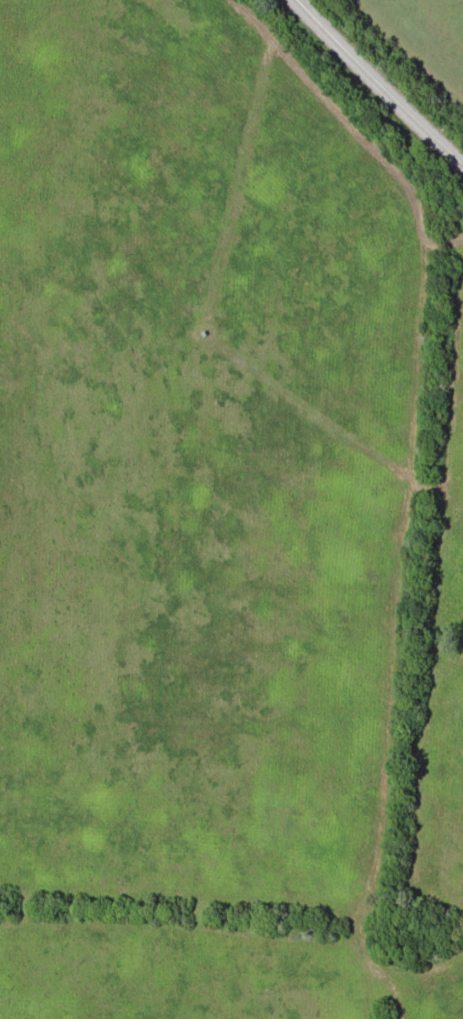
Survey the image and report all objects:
railway: (390, 67)

